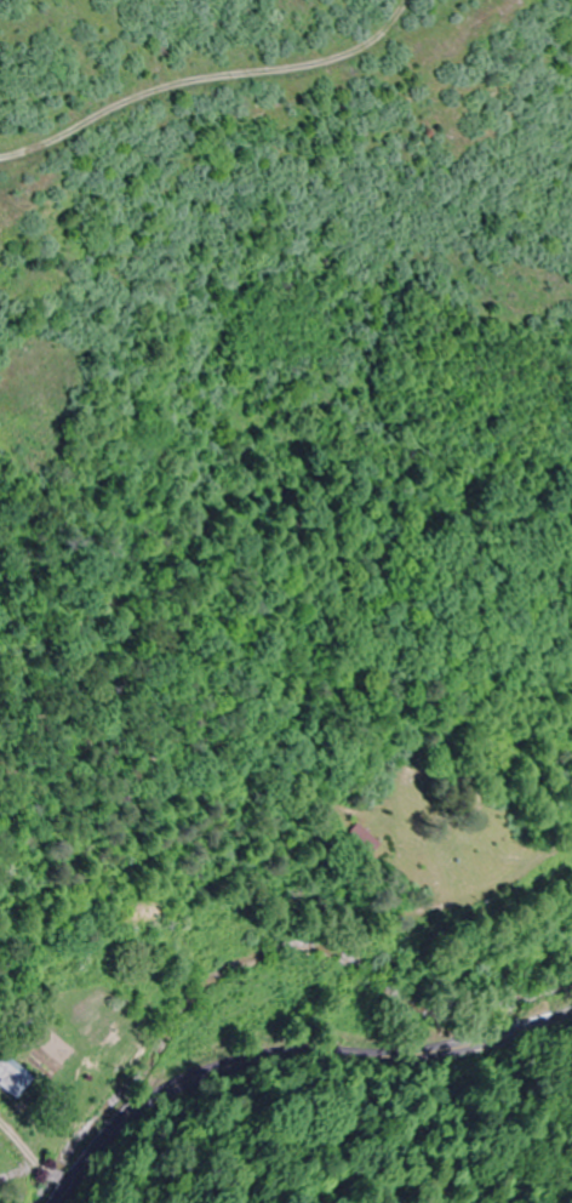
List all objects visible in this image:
park: (445, 816)
building: (349, 840)
road: (292, 1053)
building: (11, 1078)

